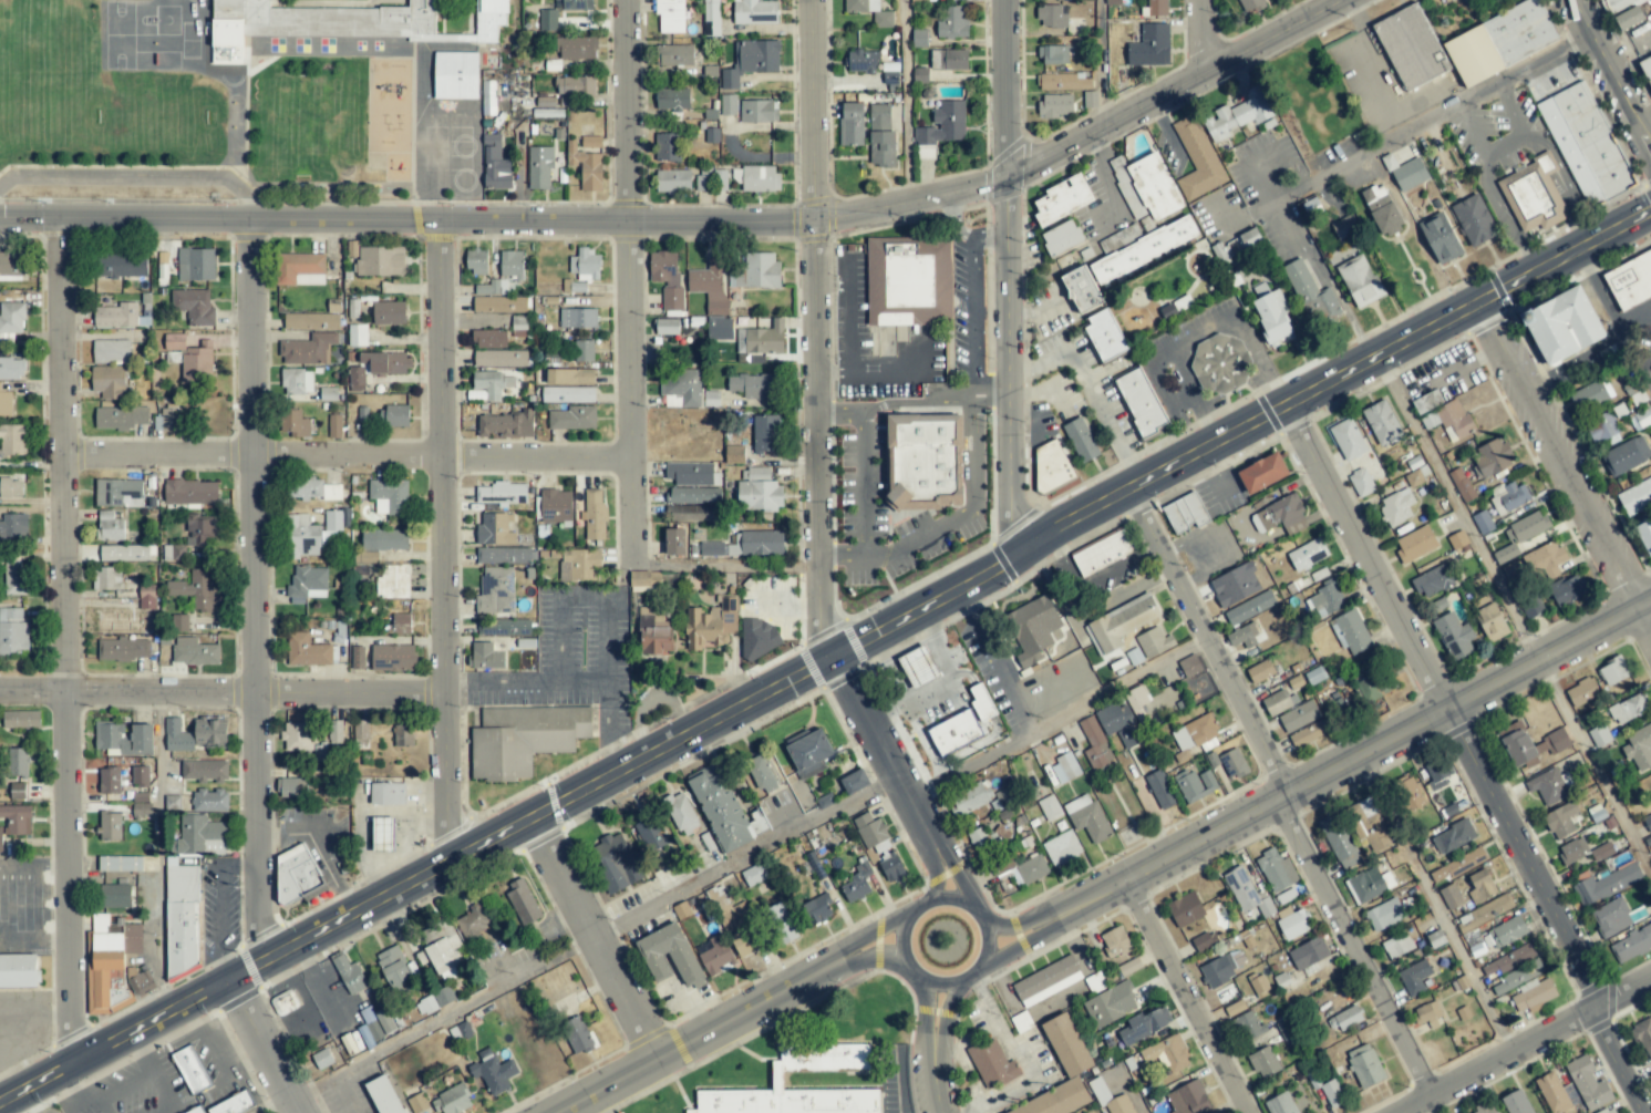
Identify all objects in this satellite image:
building: (1112, 2)
building: (1622, 3)
building: (572, 4)
building: (1251, 6)
building: (1157, 8)
building: (870, 11)
building: (754, 12)
building: (321, 14)
building: (670, 16)
building: (1051, 16)
building: (711, 18)
building: (1629, 18)
building: (489, 19)
building: (548, 20)
building: (952, 22)
road: (1200, 35)
building: (919, 38)
building: (226, 41)
building: (1500, 41)
building: (1410, 44)
building: (1149, 47)
building: (576, 48)
road: (1629, 52)
building: (673, 54)
building: (1053, 54)
building: (949, 60)
building: (751, 61)
building: (861, 61)
road: (1104, 61)
building: (1647, 68)
building: (455, 75)
building: (920, 75)
road: (1612, 75)
road: (1384, 79)
building: (1063, 82)
building: (575, 85)
building: (488, 97)
building: (672, 99)
road: (905, 100)
building: (728, 104)
building: (1054, 105)
building: (759, 111)
road: (1511, 112)
building: (1238, 114)
park: (310, 120)
building: (850, 124)
building: (941, 128)
road: (1473, 134)
building: (880, 136)
road: (1404, 137)
building: (590, 142)
road: (1502, 144)
building: (1587, 145)
building: (667, 147)
building: (1198, 158)
building: (495, 164)
building: (539, 166)
building: (586, 167)
building: (1410, 174)
building: (756, 178)
road: (1113, 178)
building: (672, 181)
road: (1566, 181)
building: (1148, 185)
building: (1533, 195)
building: (1062, 199)
building: (1381, 209)
road: (949, 215)
road: (691, 218)
road: (1506, 218)
building: (1474, 219)
building: (1344, 228)
road: (987, 229)
building: (1062, 238)
building: (1121, 238)
building: (1441, 238)
building: (1247, 239)
building: (1142, 250)
building: (379, 261)
building: (476, 261)
building: (196, 264)
building: (510, 264)
building: (122, 265)
building: (585, 265)
building: (662, 267)
building: (301, 269)
building: (755, 271)
road: (1008, 274)
road: (1329, 279)
building: (909, 280)
building: (1359, 280)
building: (1631, 280)
road: (628, 282)
building: (710, 285)
building: (492, 288)
building: (1082, 289)
building: (1312, 295)
building: (672, 299)
building: (499, 303)
building: (194, 306)
building: (333, 306)
building: (389, 312)
road: (846, 315)
building: (116, 316)
road: (967, 316)
building: (1272, 316)
building: (577, 318)
building: (10, 320)
building: (311, 321)
road: (1614, 322)
building: (518, 326)
building: (1562, 326)
building: (667, 327)
building: (719, 328)
road: (816, 328)
building: (357, 334)
building: (1105, 334)
building: (488, 339)
building: (761, 339)
building: (890, 339)
building: (308, 349)
building: (584, 350)
building: (111, 351)
road: (1642, 354)
building: (192, 358)
building: (501, 358)
building: (1220, 363)
building: (376, 367)
building: (12, 368)
road: (877, 370)
road: (825, 371)
building: (570, 377)
building: (297, 381)
building: (109, 382)
building: (492, 383)
building: (753, 385)
building: (680, 387)
road: (1091, 387)
road: (1650, 392)
building: (328, 393)
building: (1590, 393)
building: (567, 394)
road: (989, 394)
building: (6, 403)
building: (1142, 403)
building: (1424, 403)
road: (839, 406)
building: (393, 416)
building: (120, 418)
building: (572, 418)
building: (169, 420)
building: (1454, 420)
building: (1382, 422)
building: (295, 423)
building: (505, 424)
building: (334, 425)
road: (863, 426)
building: (1603, 430)
building: (765, 433)
building: (1346, 437)
building: (12, 440)
building: (1081, 441)
road: (347, 453)
building: (734, 454)
building: (1626, 456)
building: (1493, 457)
building: (923, 461)
building: (1051, 465)
road: (1565, 465)
building: (755, 473)
building: (1265, 473)
building: (1361, 482)
building: (1462, 485)
building: (11, 488)
building: (314, 489)
building: (190, 492)
building: (118, 493)
building: (502, 493)
building: (693, 495)
building: (389, 496)
building: (760, 496)
building: (1509, 497)
building: (1635, 497)
building: (555, 505)
building: (1396, 506)
road: (968, 508)
road: (1456, 509)
building: (692, 513)
building: (1185, 513)
building: (594, 514)
building: (1281, 515)
building: (1483, 522)
building: (13, 526)
building: (109, 526)
building: (199, 529)
building: (494, 529)
building: (313, 533)
building: (1520, 534)
building: (1644, 535)
road: (441, 538)
building: (383, 539)
building: (1458, 539)
building: (674, 542)
building: (756, 544)
building: (1416, 545)
building: (711, 548)
building: (124, 553)
building: (173, 553)
building: (1102, 553)
road: (842, 554)
building: (1308, 554)
building: (503, 555)
building: (365, 557)
building: (1546, 561)
building: (582, 563)
road: (725, 569)
building: (14, 577)
building: (107, 578)
building: (644, 579)
building: (392, 581)
building: (1433, 581)
building: (307, 584)
building: (1235, 585)
building: (1568, 589)
building: (196, 590)
road: (252, 590)
building: (495, 590)
building: (146, 596)
road: (591, 599)
building: (1325, 599)
building: (1531, 607)
building: (1249, 608)
building: (178, 622)
building: (1121, 622)
building: (1490, 622)
building: (401, 624)
building: (710, 625)
building: (503, 627)
building: (1033, 628)
building: (13, 631)
building: (654, 632)
building: (1351, 632)
building: (1454, 636)
building: (760, 637)
road: (1214, 637)
building: (1242, 637)
road: (65, 642)
building: (1154, 642)
building: (123, 649)
building: (194, 651)
building: (308, 651)
building: (485, 656)
building: (357, 657)
road: (825, 657)
building: (392, 658)
road: (995, 658)
building: (1189, 666)
building: (918, 667)
building: (1259, 671)
building: (1613, 671)
road: (569, 678)
building: (1373, 688)
road: (221, 691)
building: (1582, 692)
building: (1136, 698)
road: (1451, 701)
building: (1278, 702)
building: (1628, 709)
road: (1059, 715)
building: (1298, 717)
building: (22, 720)
building: (962, 724)
building: (1119, 724)
building: (334, 731)
building: (209, 732)
building: (1195, 733)
building: (360, 734)
building: (1309, 734)
building: (1599, 734)
building: (403, 735)
building: (176, 736)
building: (297, 736)
building: (125, 738)
building: (524, 738)
building: (1556, 741)
building: (1095, 744)
building: (1517, 744)
building: (1639, 749)
building: (808, 752)
road: (884, 755)
building: (17, 762)
building: (1232, 763)
road: (1342, 764)
building: (1064, 769)
building: (204, 770)
road: (1592, 771)
building: (762, 773)
building: (1435, 774)
building: (140, 775)
building: (110, 781)
building: (854, 781)
building: (1195, 784)
building: (291, 786)
building: (1548, 786)
building: (1160, 790)
building: (17, 791)
building: (1408, 792)
building: (386, 794)
building: (140, 797)
building: (978, 798)
building: (210, 800)
building: (1049, 807)
building: (142, 810)
building: (724, 810)
building: (681, 814)
building: (1086, 817)
building: (17, 818)
building: (1560, 821)
building: (1648, 822)
building: (1371, 824)
building: (110, 826)
building: (869, 829)
building: (383, 834)
building: (197, 835)
building: (1453, 836)
building: (652, 837)
building: (979, 837)
building: (1, 839)
building: (1340, 842)
road: (320, 844)
building: (1062, 847)
building: (1572, 851)
building: (615, 860)
building: (120, 864)
building: (1459, 865)
building: (891, 868)
building: (1029, 870)
building: (296, 873)
building: (753, 875)
building: (1278, 875)
road: (935, 878)
road: (953, 882)
building: (1606, 884)
building: (1370, 885)
building: (1482, 885)
building: (855, 887)
building: (1246, 893)
building: (116, 896)
building: (1451, 897)
building: (523, 903)
road: (1436, 906)
building: (818, 909)
building: (1185, 909)
building: (1490, 909)
building: (1384, 914)
building: (733, 915)
building: (1613, 917)
building: (183, 920)
building: (100, 923)
building: (472, 923)
building: (780, 924)
building: (1293, 924)
road: (1007, 928)
building: (1504, 934)
road: (879, 936)
building: (133, 938)
road: (588, 939)
building: (745, 941)
building: (1205, 941)
building: (1113, 944)
road: (578, 945)
building: (1397, 945)
building: (1631, 945)
road: (1361, 947)
road: (1005, 948)
building: (1308, 954)
building: (444, 955)
building: (652, 955)
building: (716, 955)
road: (879, 955)
building: (1509, 960)
road: (978, 965)
building: (1129, 967)
building: (393, 968)
building: (18, 970)
building: (1220, 970)
building: (114, 975)
building: (349, 975)
building: (1414, 977)
building: (1517, 977)
building: (1046, 980)
building: (1259, 986)
building: (1533, 995)
road: (1191, 996)
building: (434, 1001)
road: (927, 1001)
building: (285, 1002)
building: (1110, 1004)
road: (945, 1008)
building: (1235, 1008)
building: (1426, 1012)
building: (1344, 1019)
building: (376, 1021)
building: (1144, 1026)
building: (1247, 1026)
building: (1288, 1031)
building: (461, 1032)
road: (705, 1033)
building: (578, 1034)
road: (933, 1037)
building: (1644, 1037)
road: (268, 1044)
building: (1066, 1044)
road: (1531, 1048)
building: (1167, 1052)
road: (1019, 1057)
building: (322, 1059)
building: (1263, 1062)
building: (991, 1063)
road: (1618, 1064)
building: (1365, 1065)
building: (190, 1069)
building: (493, 1072)
road: (936, 1079)
building: (776, 1080)
road: (890, 1083)
building: (1588, 1084)
building: (1551, 1092)
building: (1332, 1093)
building: (384, 1095)
building: (1187, 1099)
building: (452, 1100)
building: (1056, 1101)
building: (1516, 1102)
building: (234, 1104)
building: (1122, 1104)
building: (1280, 1104)
building: (1485, 1107)
road: (1136, 1109)
building: (1608, 1110)
building: (197, 1111)

